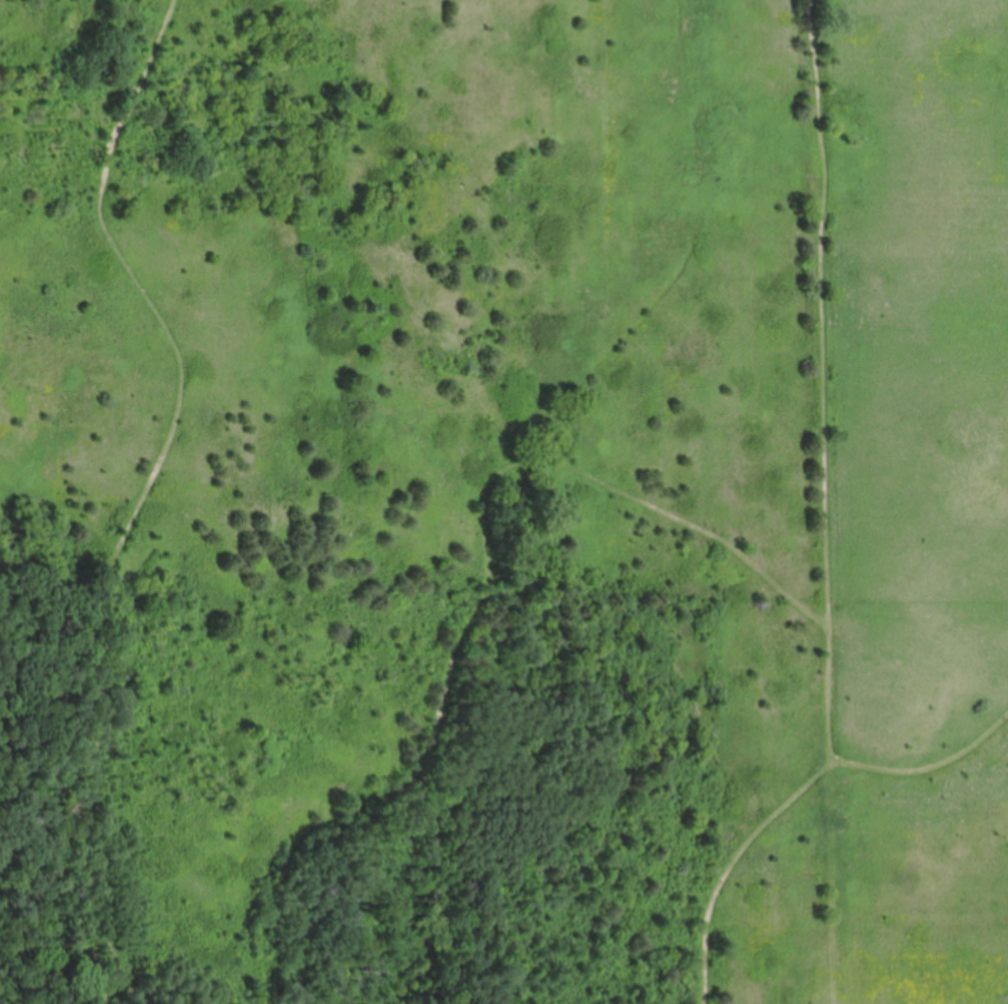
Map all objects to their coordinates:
road: (132, 274)
park: (504, 502)
road: (822, 526)
road: (488, 576)
road: (928, 772)
road: (99, 777)
road: (48, 796)
road: (274, 1000)

